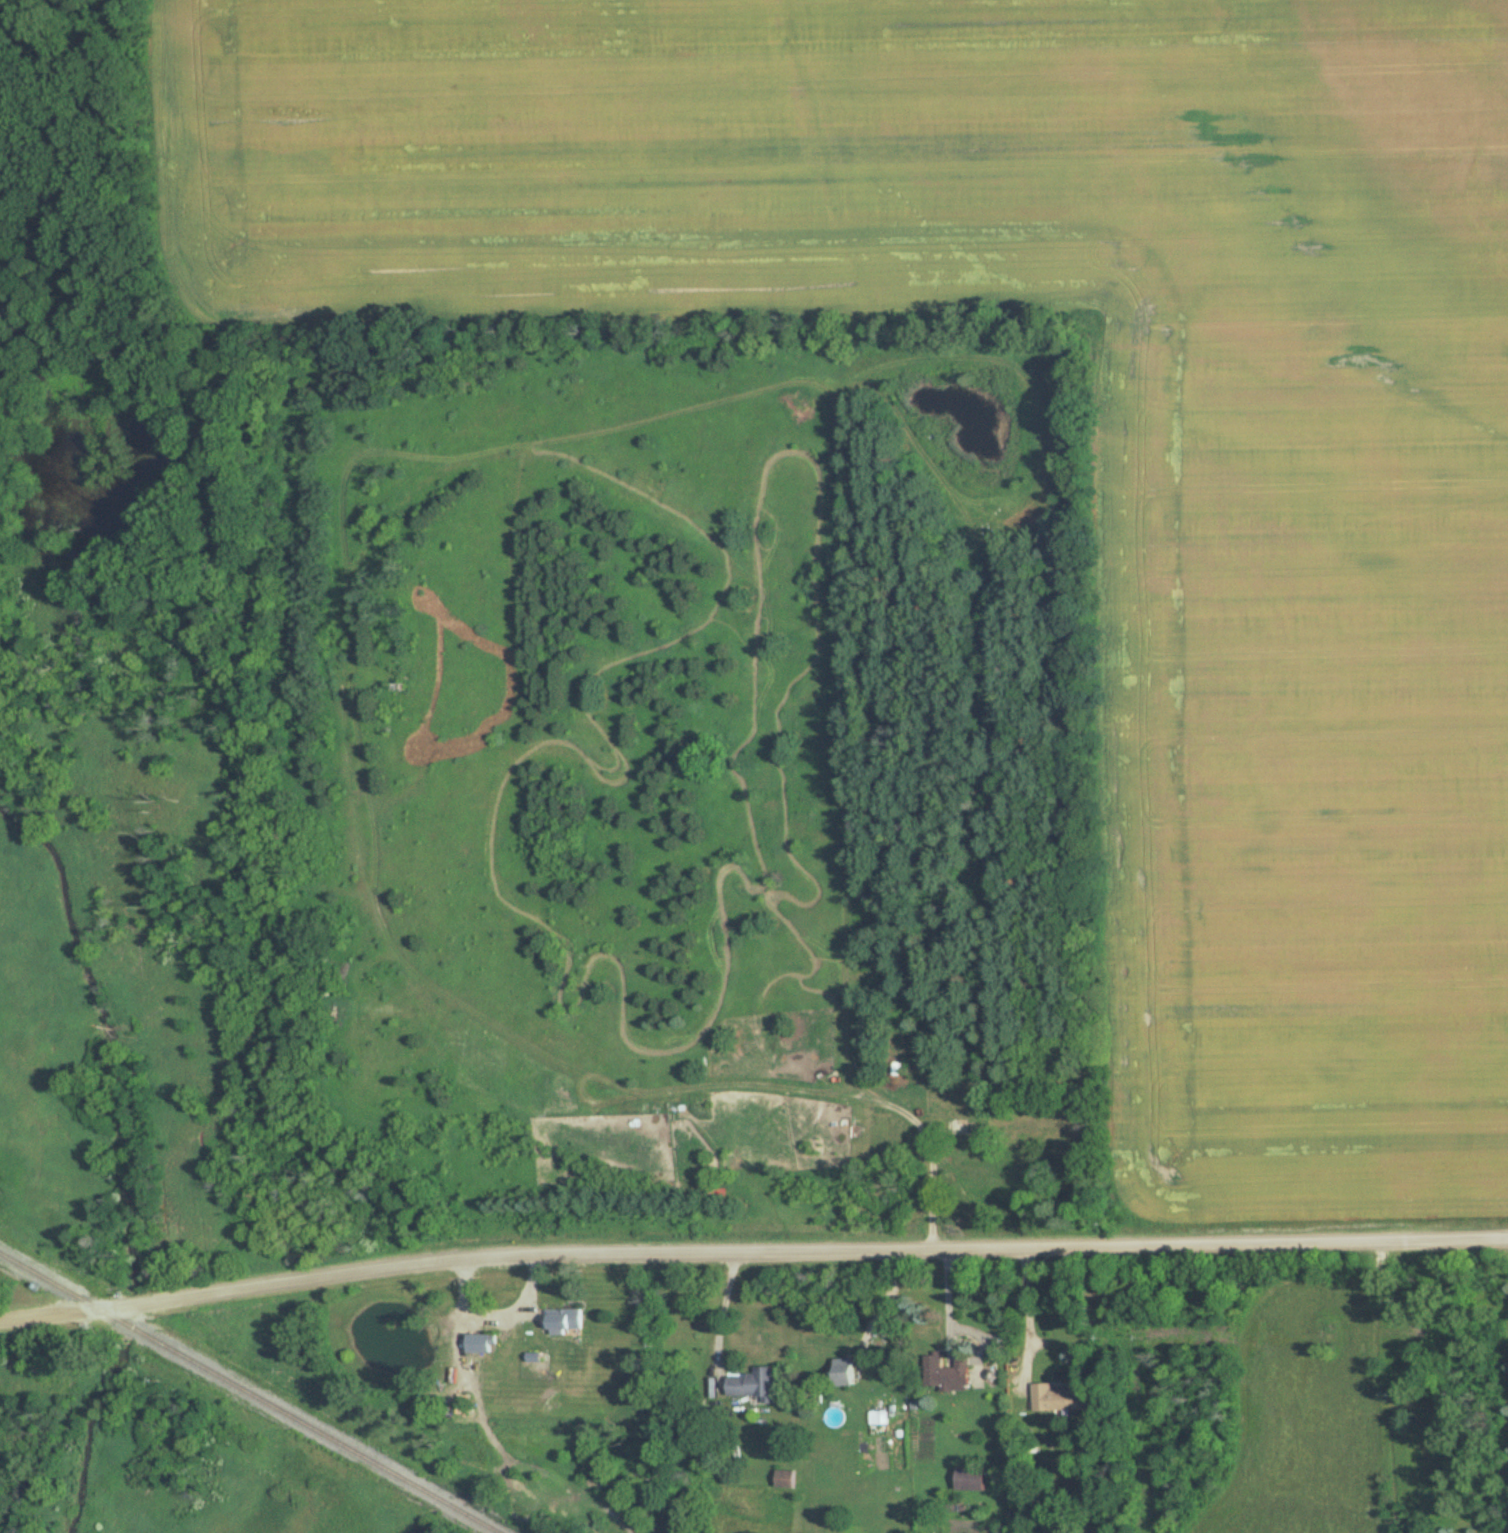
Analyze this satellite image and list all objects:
road: (933, 1163)
building: (1012, 1183)
road: (751, 1250)
road: (720, 1310)
road: (1022, 1316)
building: (562, 1321)
building: (477, 1344)
building: (943, 1373)
building: (842, 1374)
building: (754, 1385)
railway: (246, 1393)
building: (1060, 1396)
building: (784, 1479)
building: (969, 1480)

